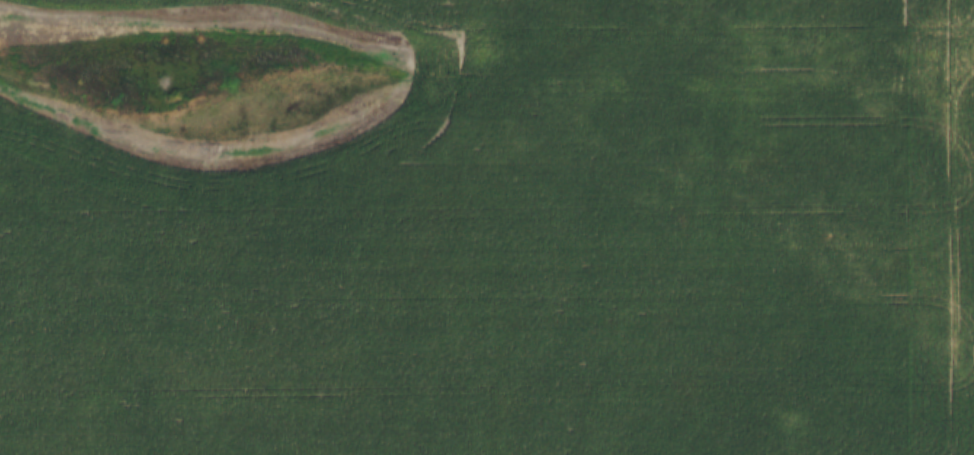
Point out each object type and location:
road: (857, 79)

